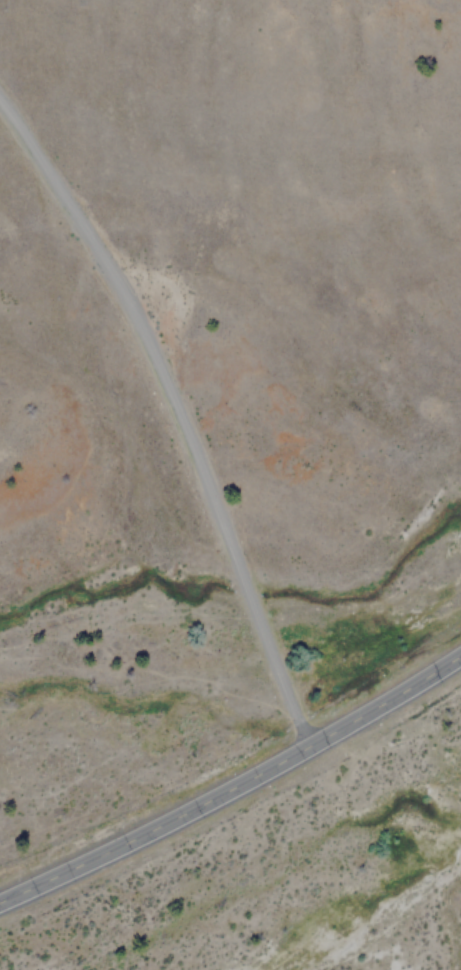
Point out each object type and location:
road: (173, 412)
road: (234, 784)

